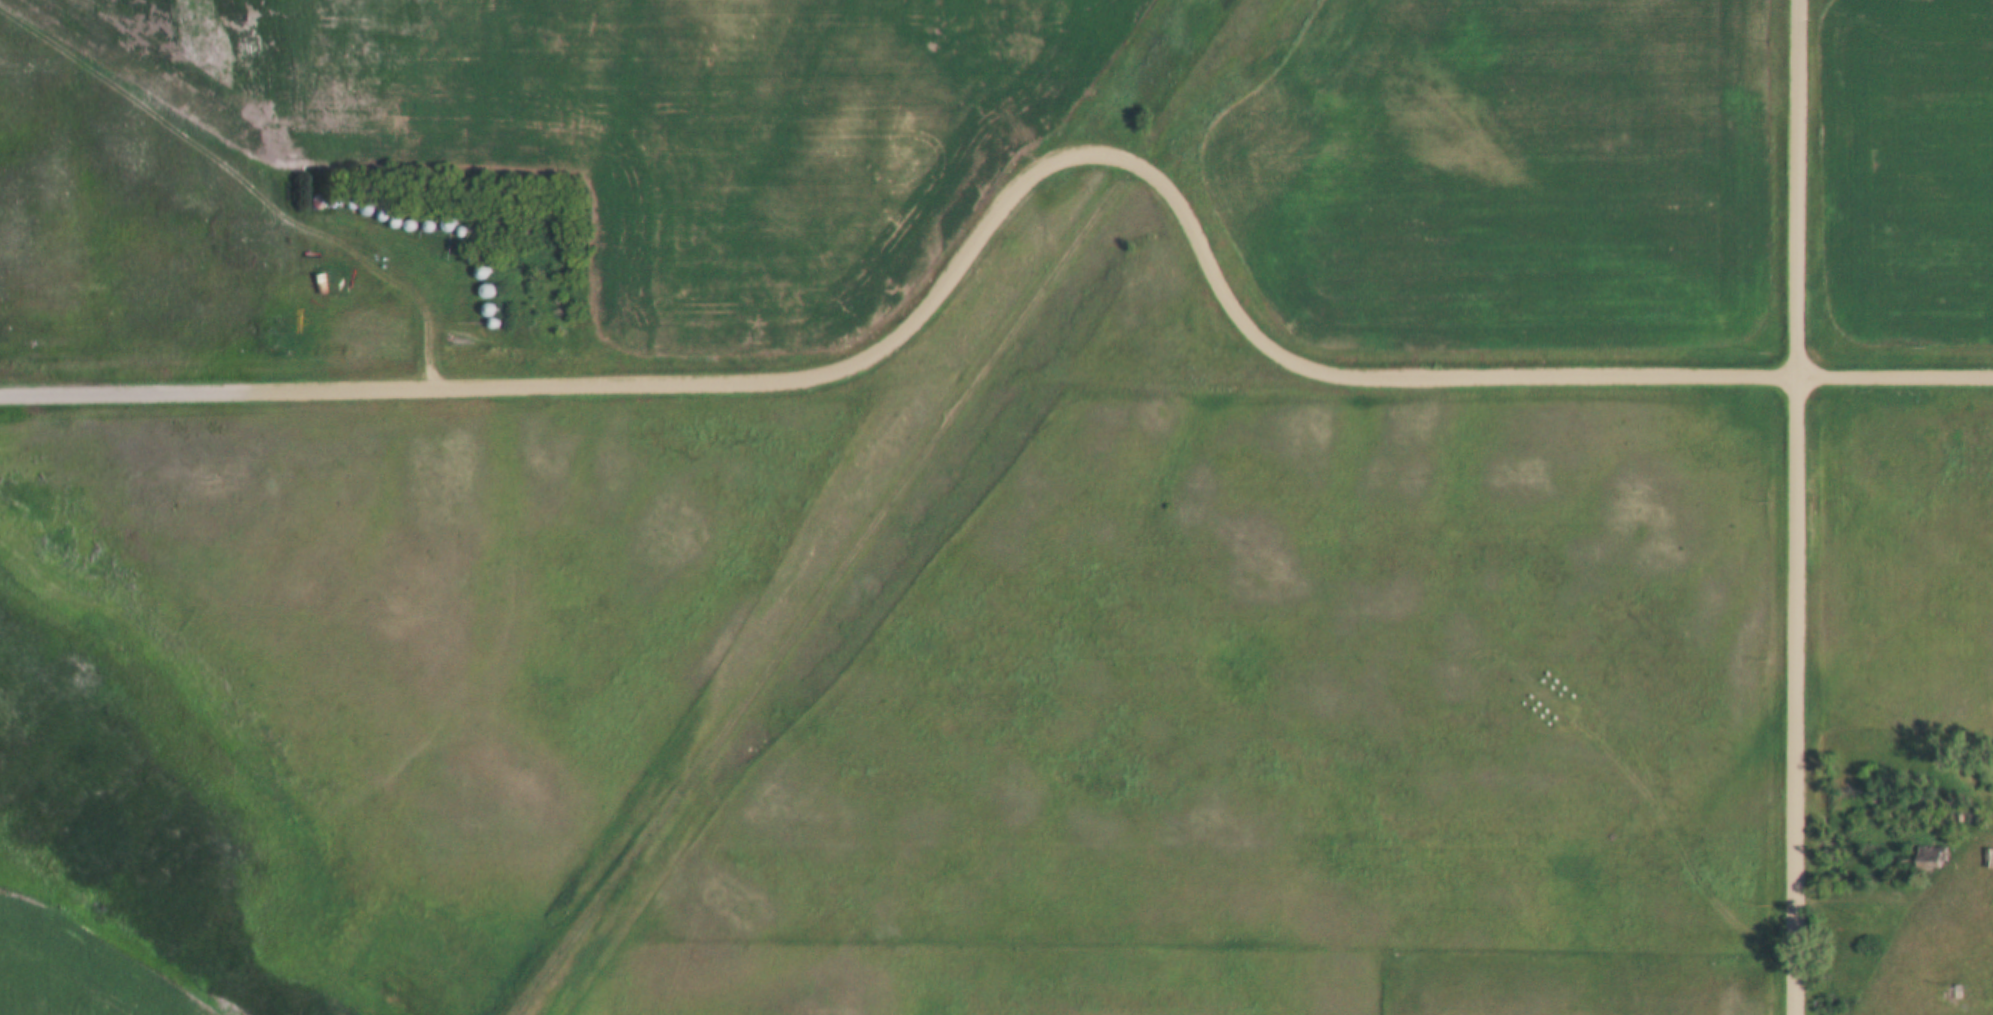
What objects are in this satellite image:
road: (1018, 187)
building: (447, 224)
building: (480, 272)
building: (320, 282)
building: (484, 289)
road: (1799, 507)
building: (1931, 855)
road: (1896, 891)
building: (1950, 992)

